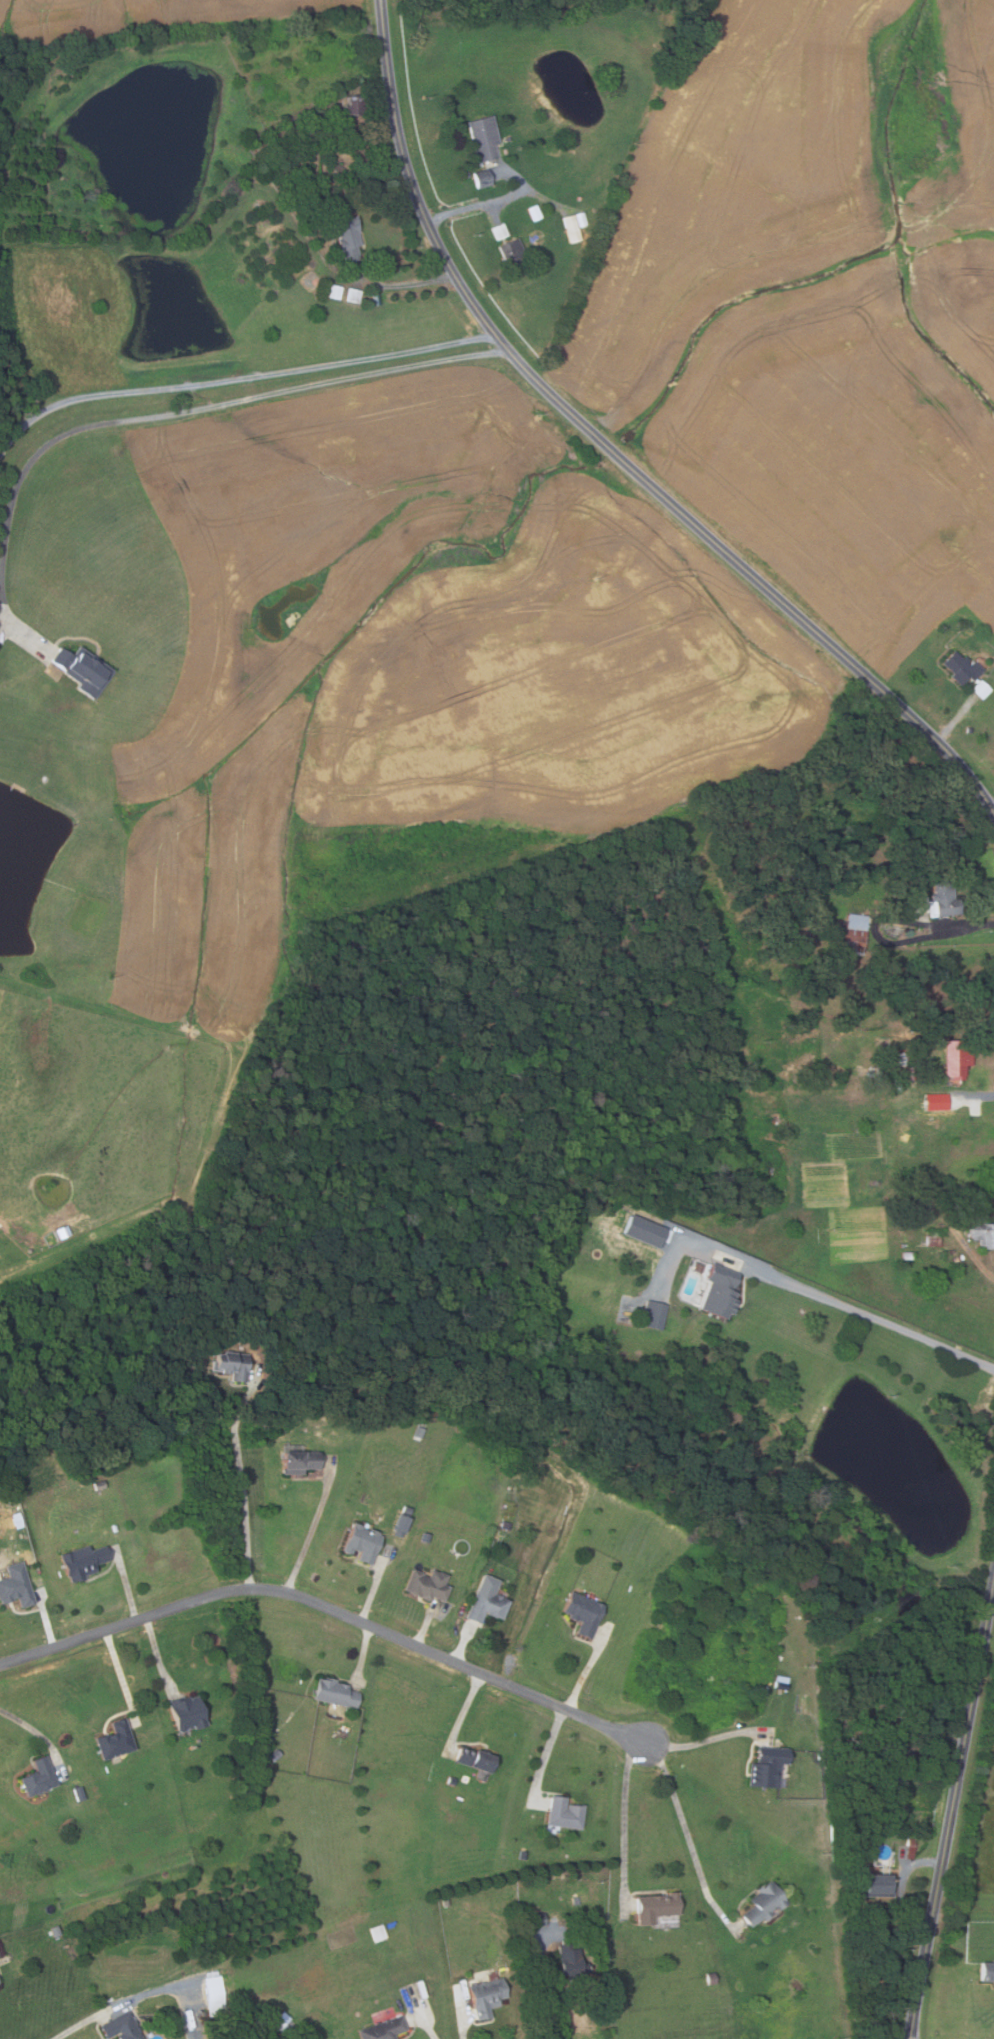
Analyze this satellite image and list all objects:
crop: (145, 15)
building: (355, 106)
building: (306, 135)
building: (483, 139)
building: (466, 175)
building: (481, 179)
road: (489, 203)
building: (315, 206)
building: (534, 213)
building: (574, 229)
building: (500, 232)
building: (347, 235)
building: (513, 250)
road: (402, 283)
building: (335, 292)
building: (354, 296)
crop: (817, 302)
road: (240, 379)
road: (161, 415)
road: (612, 451)
building: (960, 668)
building: (82, 670)
building: (977, 689)
road: (955, 720)
road: (993, 807)
building: (944, 898)
building: (920, 904)
road: (966, 924)
building: (855, 932)
building: (956, 1059)
building: (902, 1060)
road: (967, 1094)
building: (980, 1231)
building: (933, 1241)
building: (906, 1255)
building: (720, 1292)
building: (654, 1314)
road: (878, 1320)
building: (225, 1332)
building: (232, 1365)
building: (419, 1432)
building: (300, 1461)
building: (98, 1485)
road: (241, 1492)
building: (399, 1526)
road: (308, 1538)
building: (424, 1538)
building: (363, 1543)
building: (83, 1561)
building: (428, 1584)
road: (126, 1585)
building: (15, 1589)
road: (372, 1590)
building: (486, 1601)
road: (327, 1607)
building: (583, 1613)
road: (47, 1621)
road: (425, 1624)
crop: (993, 1637)
road: (462, 1644)
road: (363, 1652)
road: (158, 1654)
road: (586, 1670)
road: (121, 1676)
building: (335, 1693)
road: (465, 1712)
building: (187, 1714)
building: (263, 1715)
road: (33, 1728)
building: (269, 1734)
building: (116, 1740)
road: (701, 1741)
road: (548, 1753)
building: (274, 1755)
building: (475, 1759)
building: (768, 1767)
building: (40, 1776)
building: (893, 1781)
building: (78, 1793)
road: (952, 1810)
building: (564, 1813)
road: (684, 1830)
building: (910, 1845)
building: (877, 1884)
road: (903, 1886)
road: (624, 1889)
building: (581, 1900)
building: (445, 1902)
building: (764, 1904)
building: (656, 1906)
building: (529, 1920)
building: (55, 1931)
building: (378, 1932)
building: (570, 1959)
building: (987, 1973)
building: (710, 1978)
building: (214, 1993)
road: (541, 1993)
road: (143, 1994)
building: (487, 1996)
building: (280, 2021)
building: (121, 2027)
building: (384, 2029)
road: (463, 2031)
road: (432, 2033)

